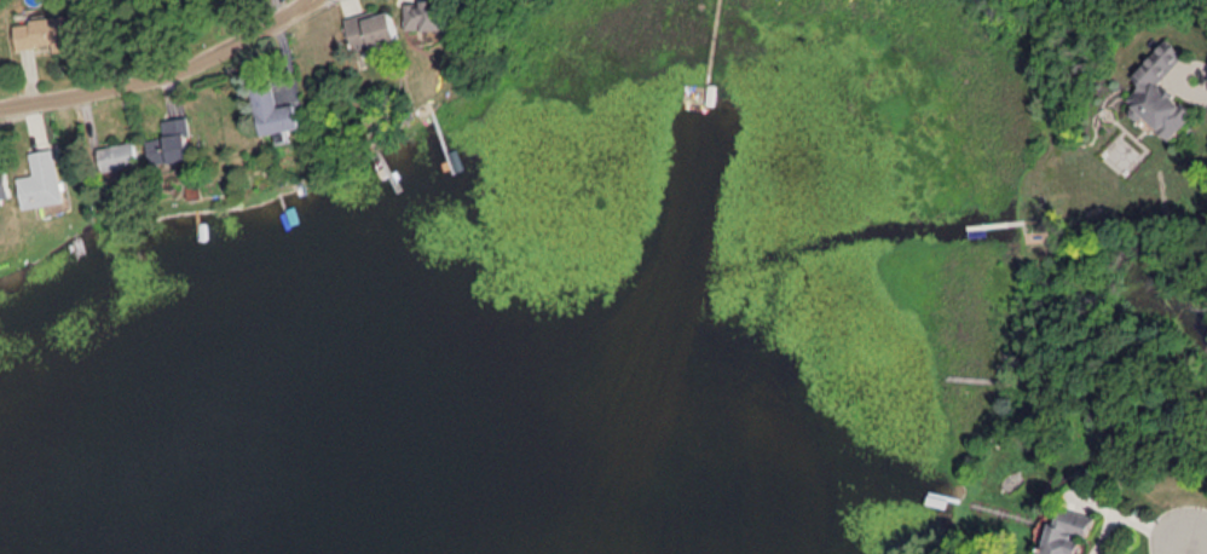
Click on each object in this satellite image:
building: (425, 15)
building: (373, 29)
building: (45, 31)
road: (168, 81)
building: (1161, 91)
building: (273, 110)
building: (172, 142)
building: (120, 155)
building: (41, 179)
building: (4, 185)
building: (1072, 531)
road: (1199, 539)
road: (1189, 549)

